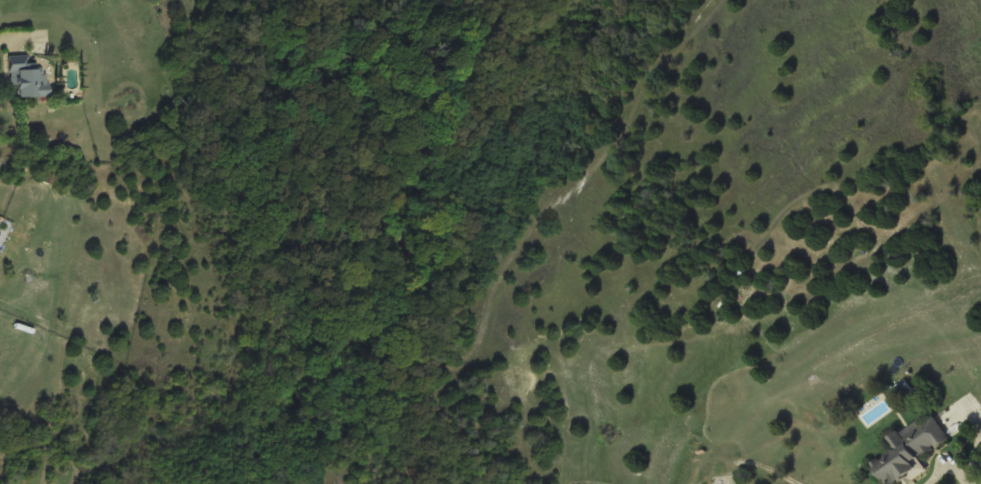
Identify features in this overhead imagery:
building: (30, 79)
building: (911, 450)
road: (946, 467)

